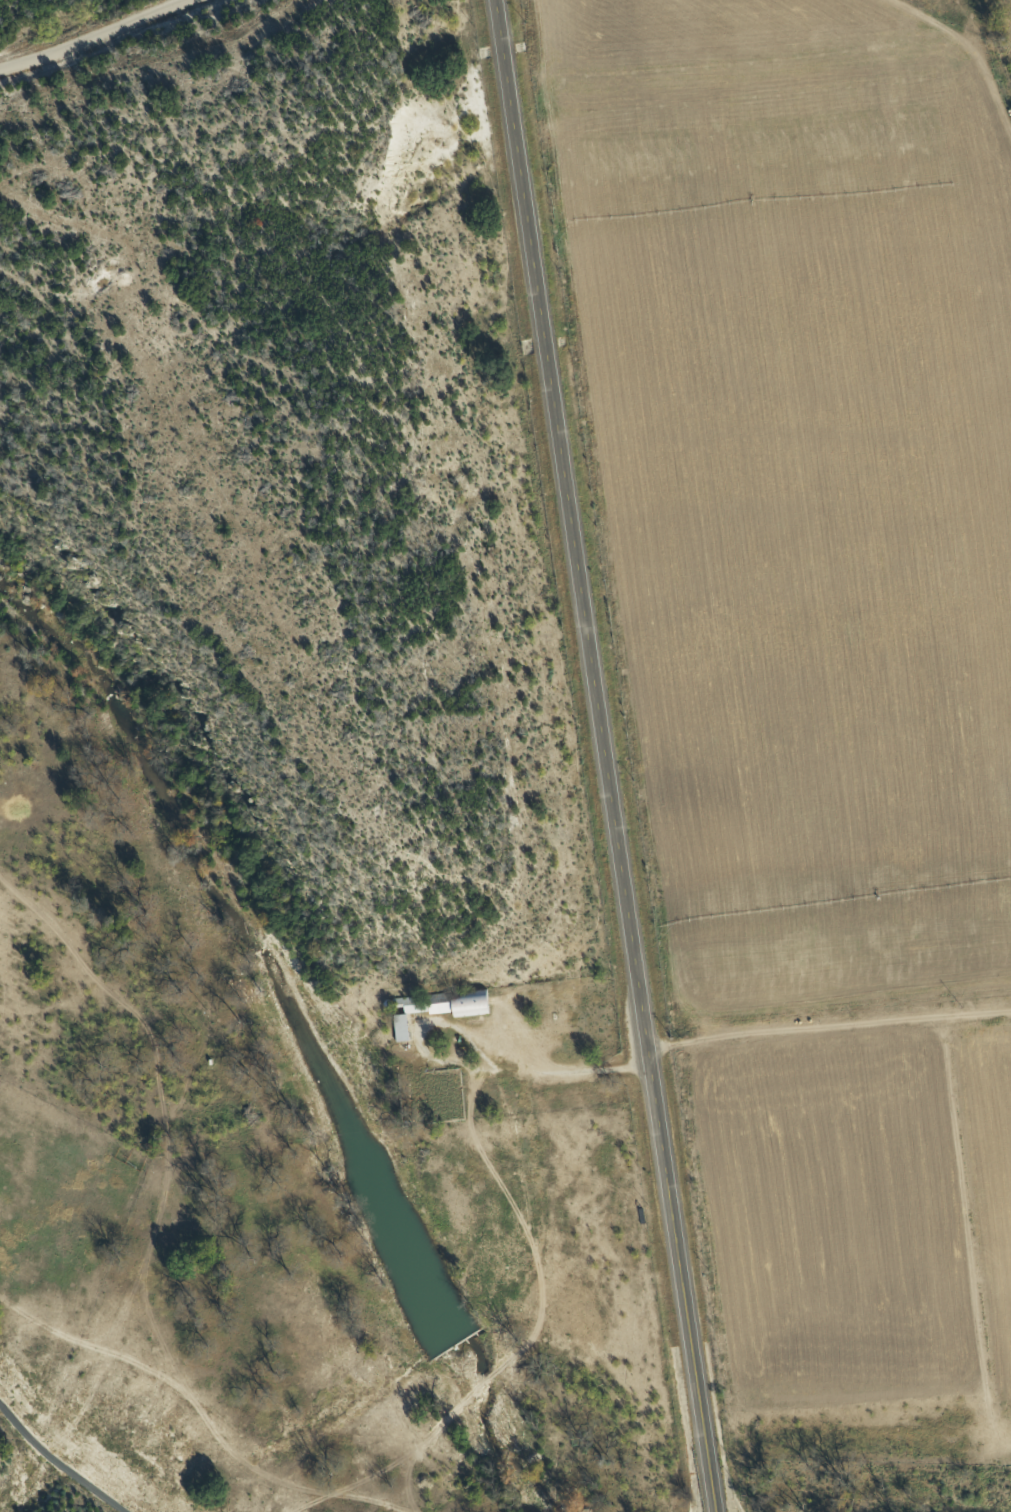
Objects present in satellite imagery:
road: (141, 51)
road: (608, 756)
building: (430, 1008)
building: (429, 1094)
road: (184, 1410)

